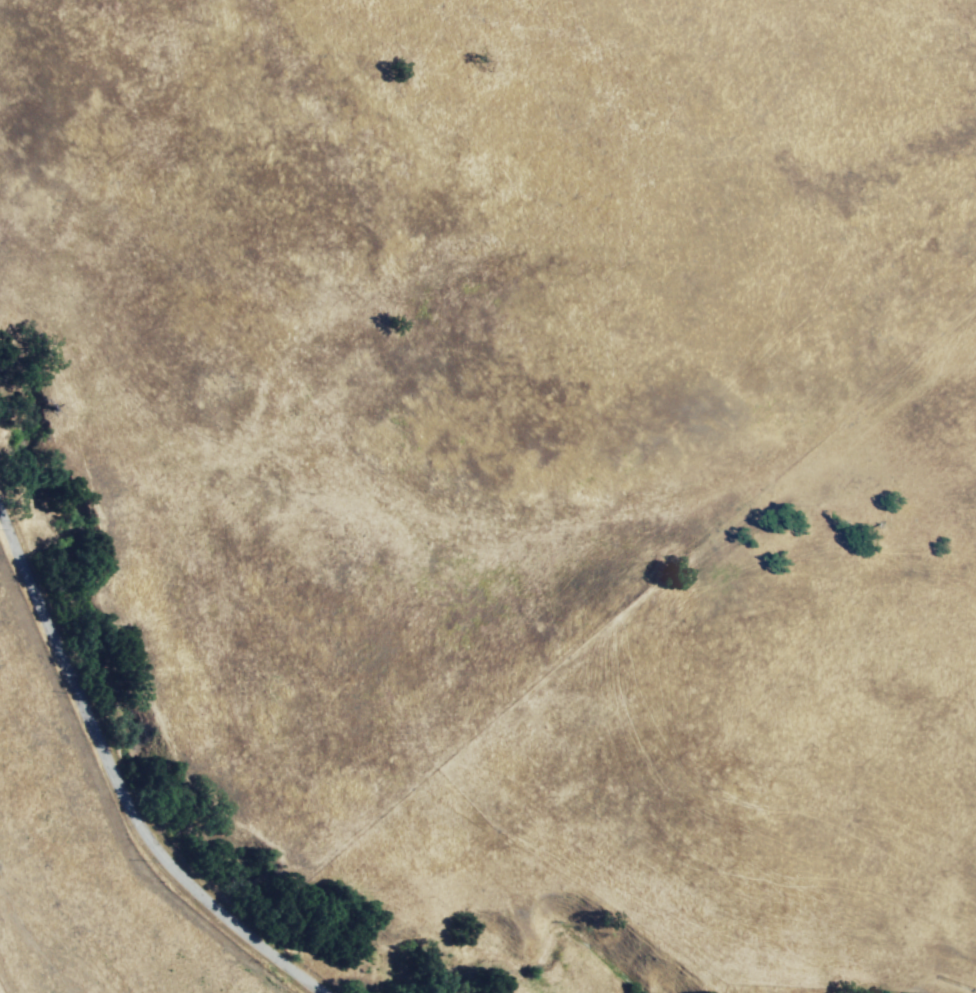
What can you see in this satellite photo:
road: (114, 809)

